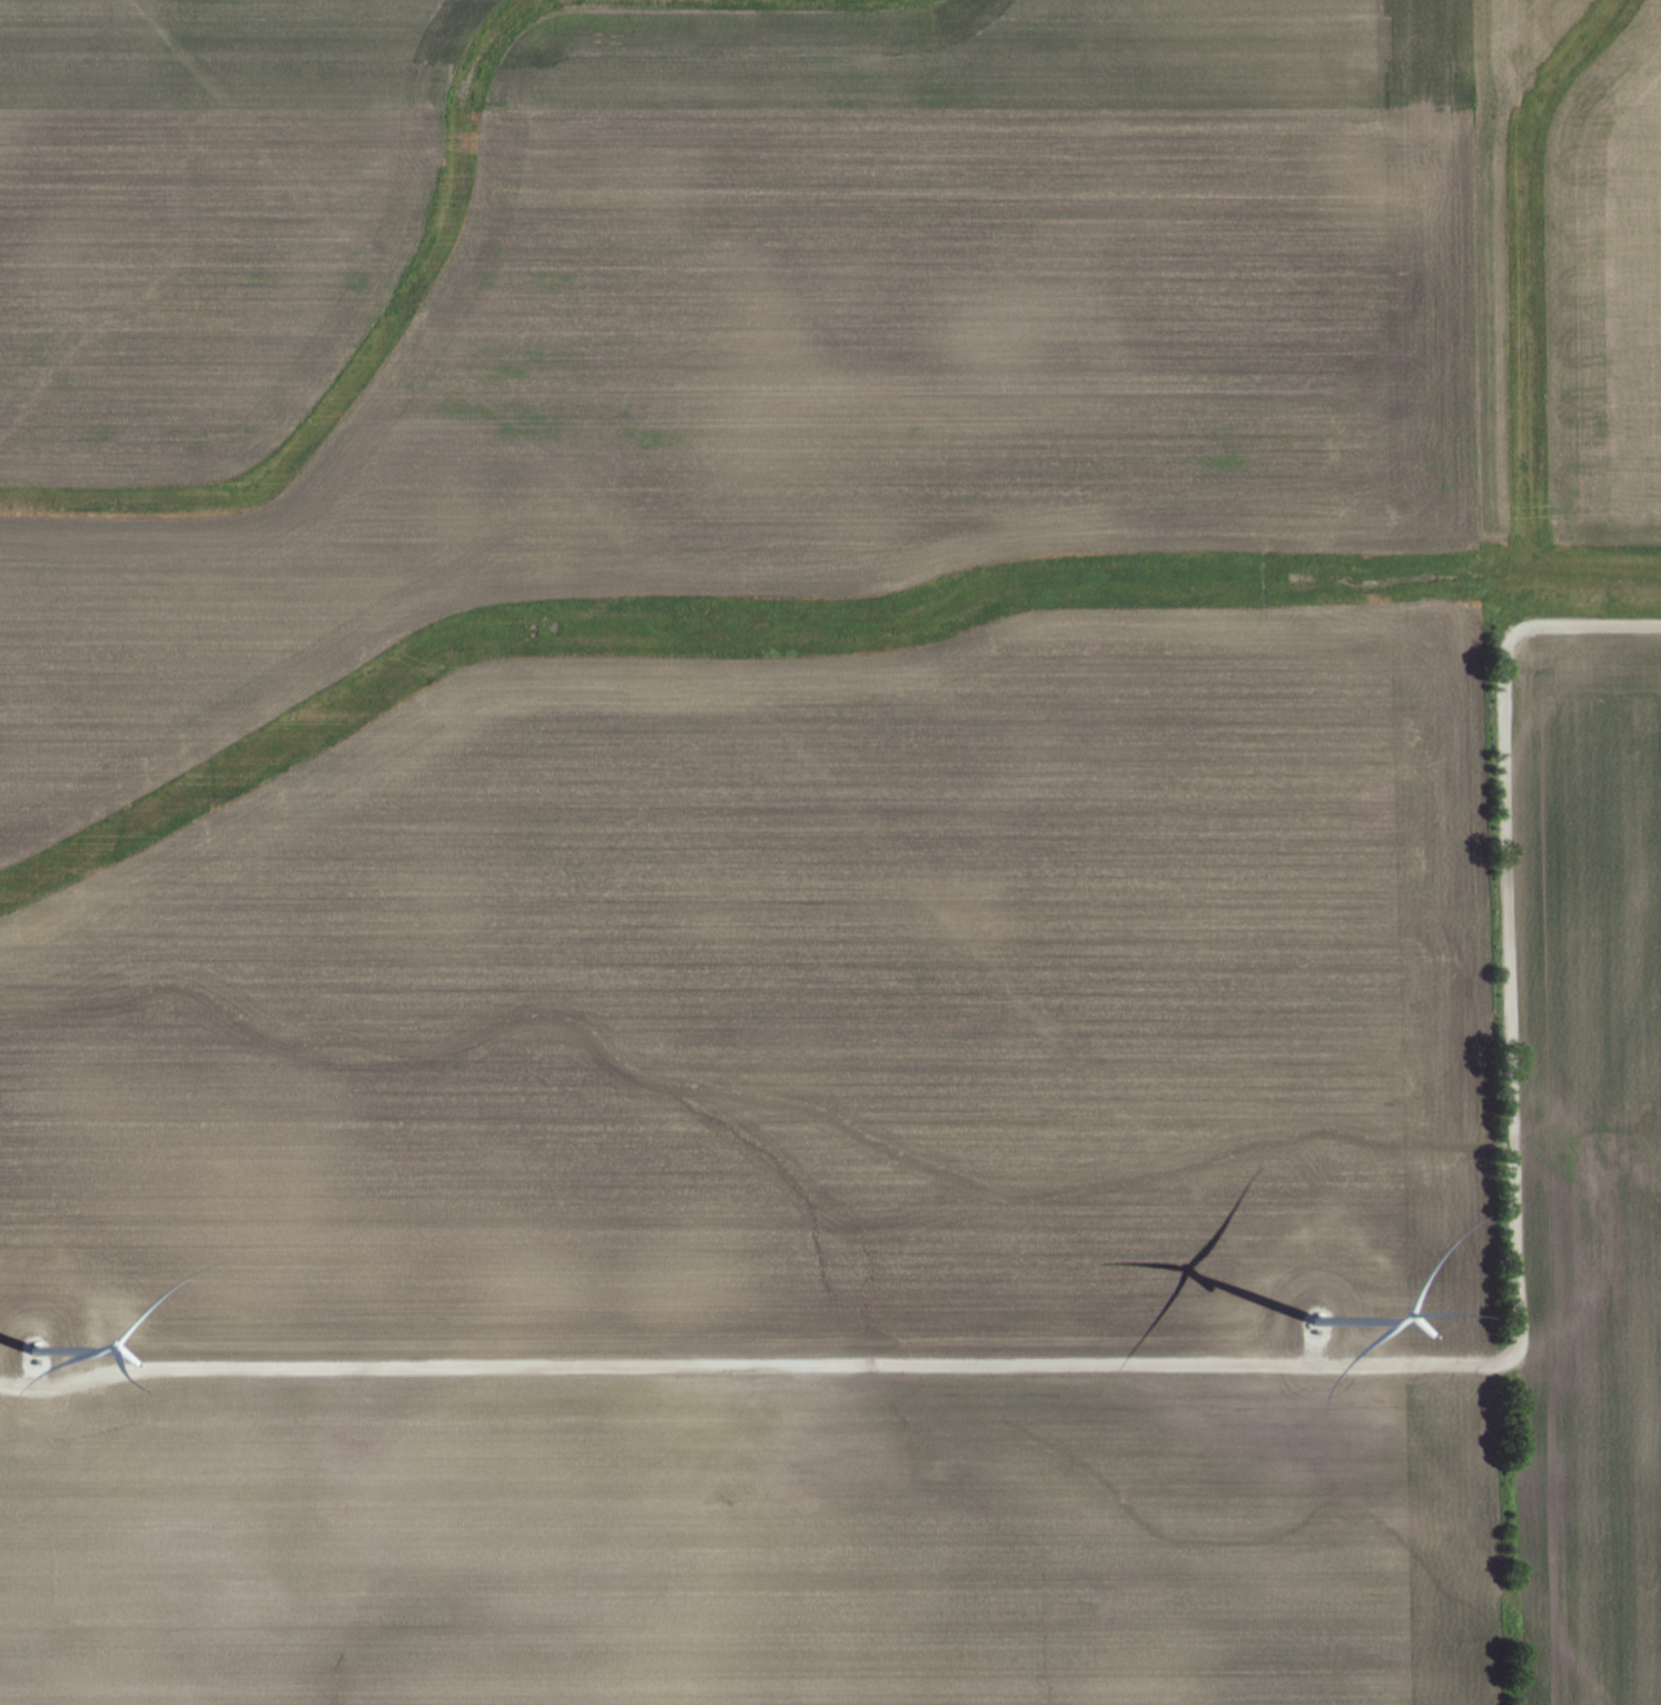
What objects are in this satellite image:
wind turbine: (46, 1348)
wind turbine: (1319, 1351)
road: (1193, 1362)

